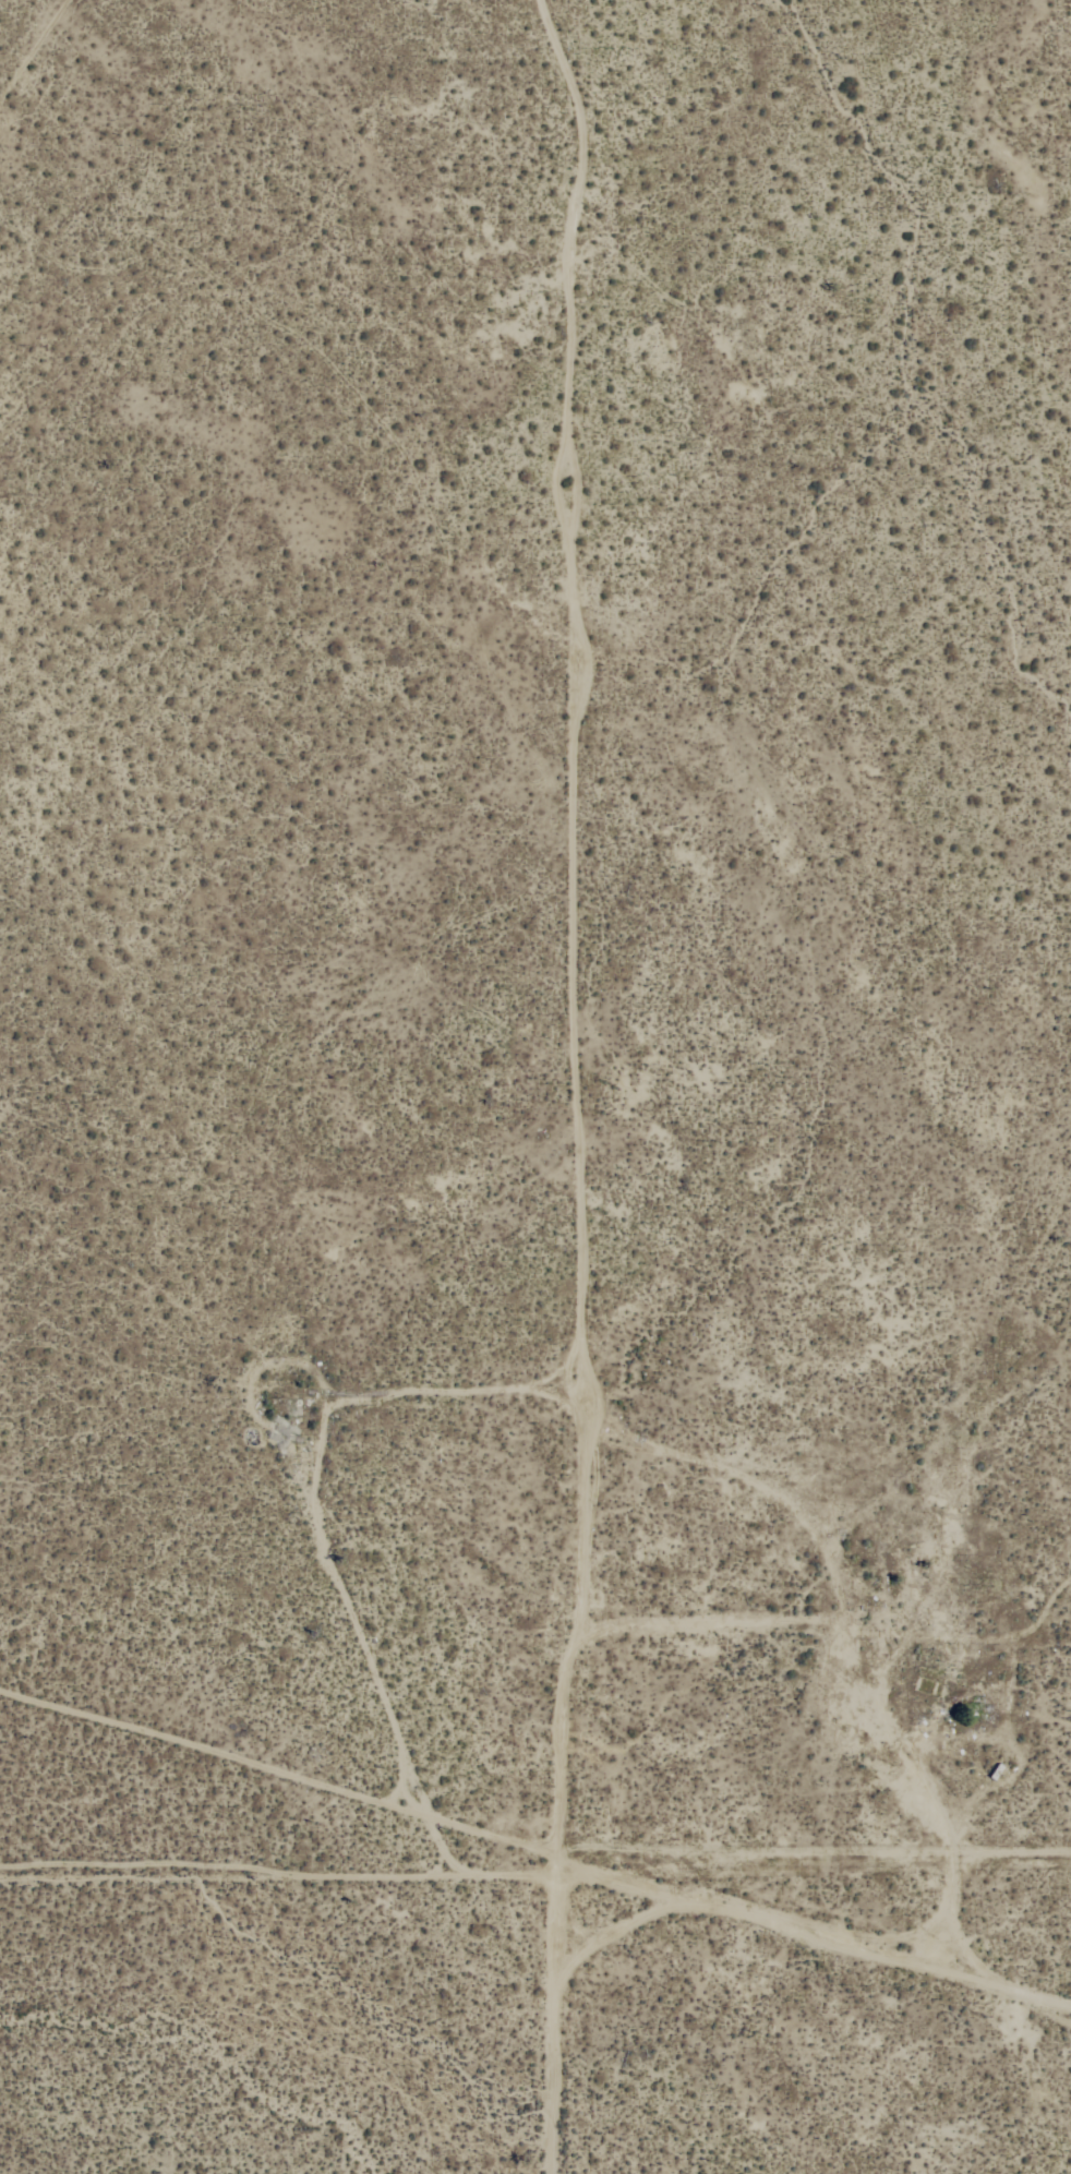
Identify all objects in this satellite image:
road: (248, 1764)
road: (526, 1843)
road: (751, 1848)
road: (958, 1859)
road: (545, 1862)
road: (552, 2018)

